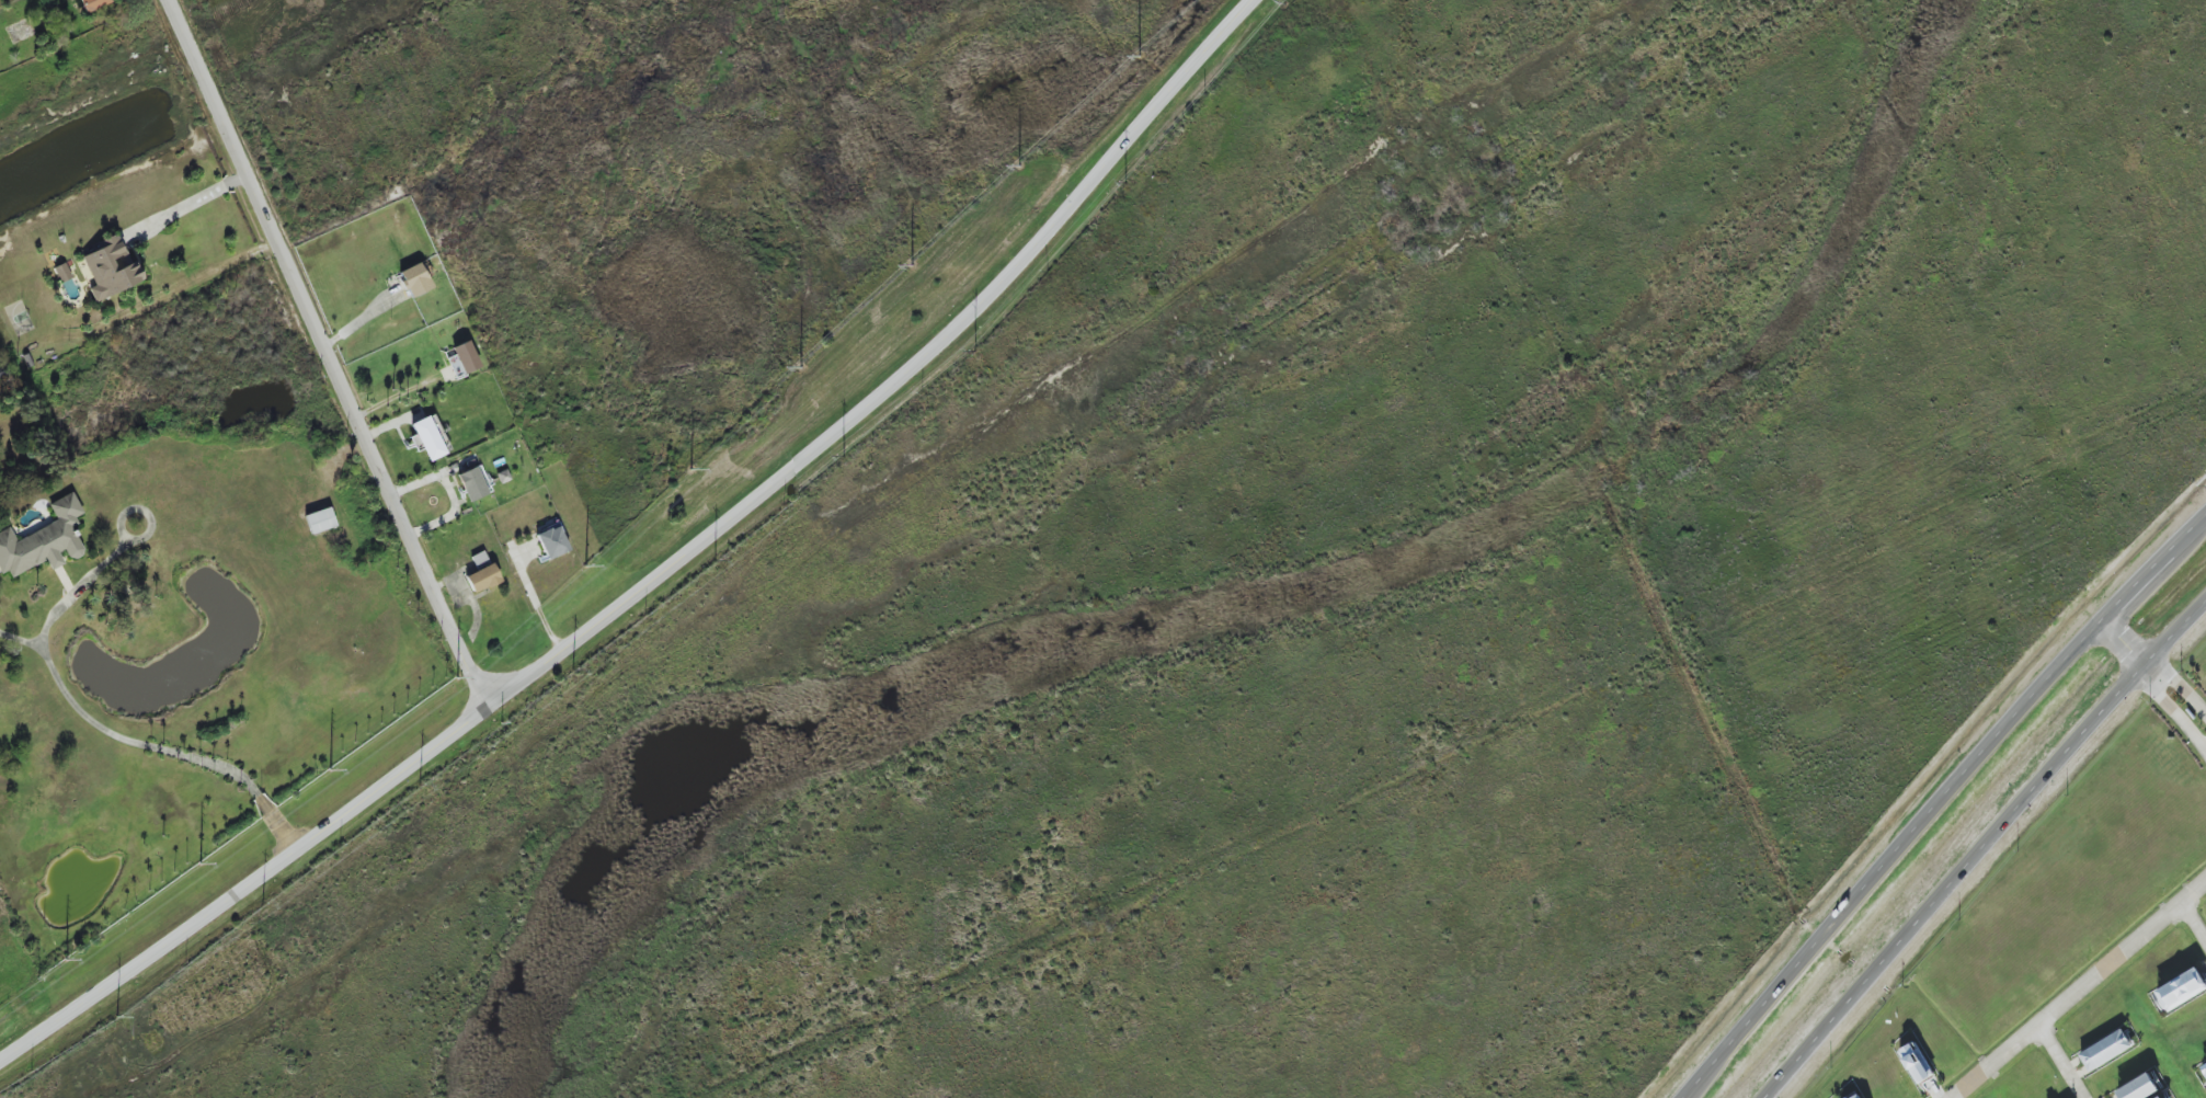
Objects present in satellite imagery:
building: (92, 4)
road: (199, 214)
building: (108, 270)
building: (61, 272)
building: (415, 279)
road: (361, 319)
road: (324, 354)
building: (462, 359)
road: (397, 396)
building: (430, 437)
building: (475, 483)
building: (319, 521)
building: (43, 540)
building: (551, 541)
building: (479, 560)
road: (663, 572)
building: (481, 579)
road: (2125, 640)
road: (2180, 683)
road: (65, 691)
road: (2172, 709)
road: (1941, 803)
road: (1982, 847)
road: (2195, 918)
road: (2080, 990)
building: (2182, 990)
building: (2106, 1050)
road: (2060, 1062)
building: (1917, 1063)
building: (2204, 1068)
building: (2139, 1088)
building: (1854, 1096)
building: (2160, 1097)

